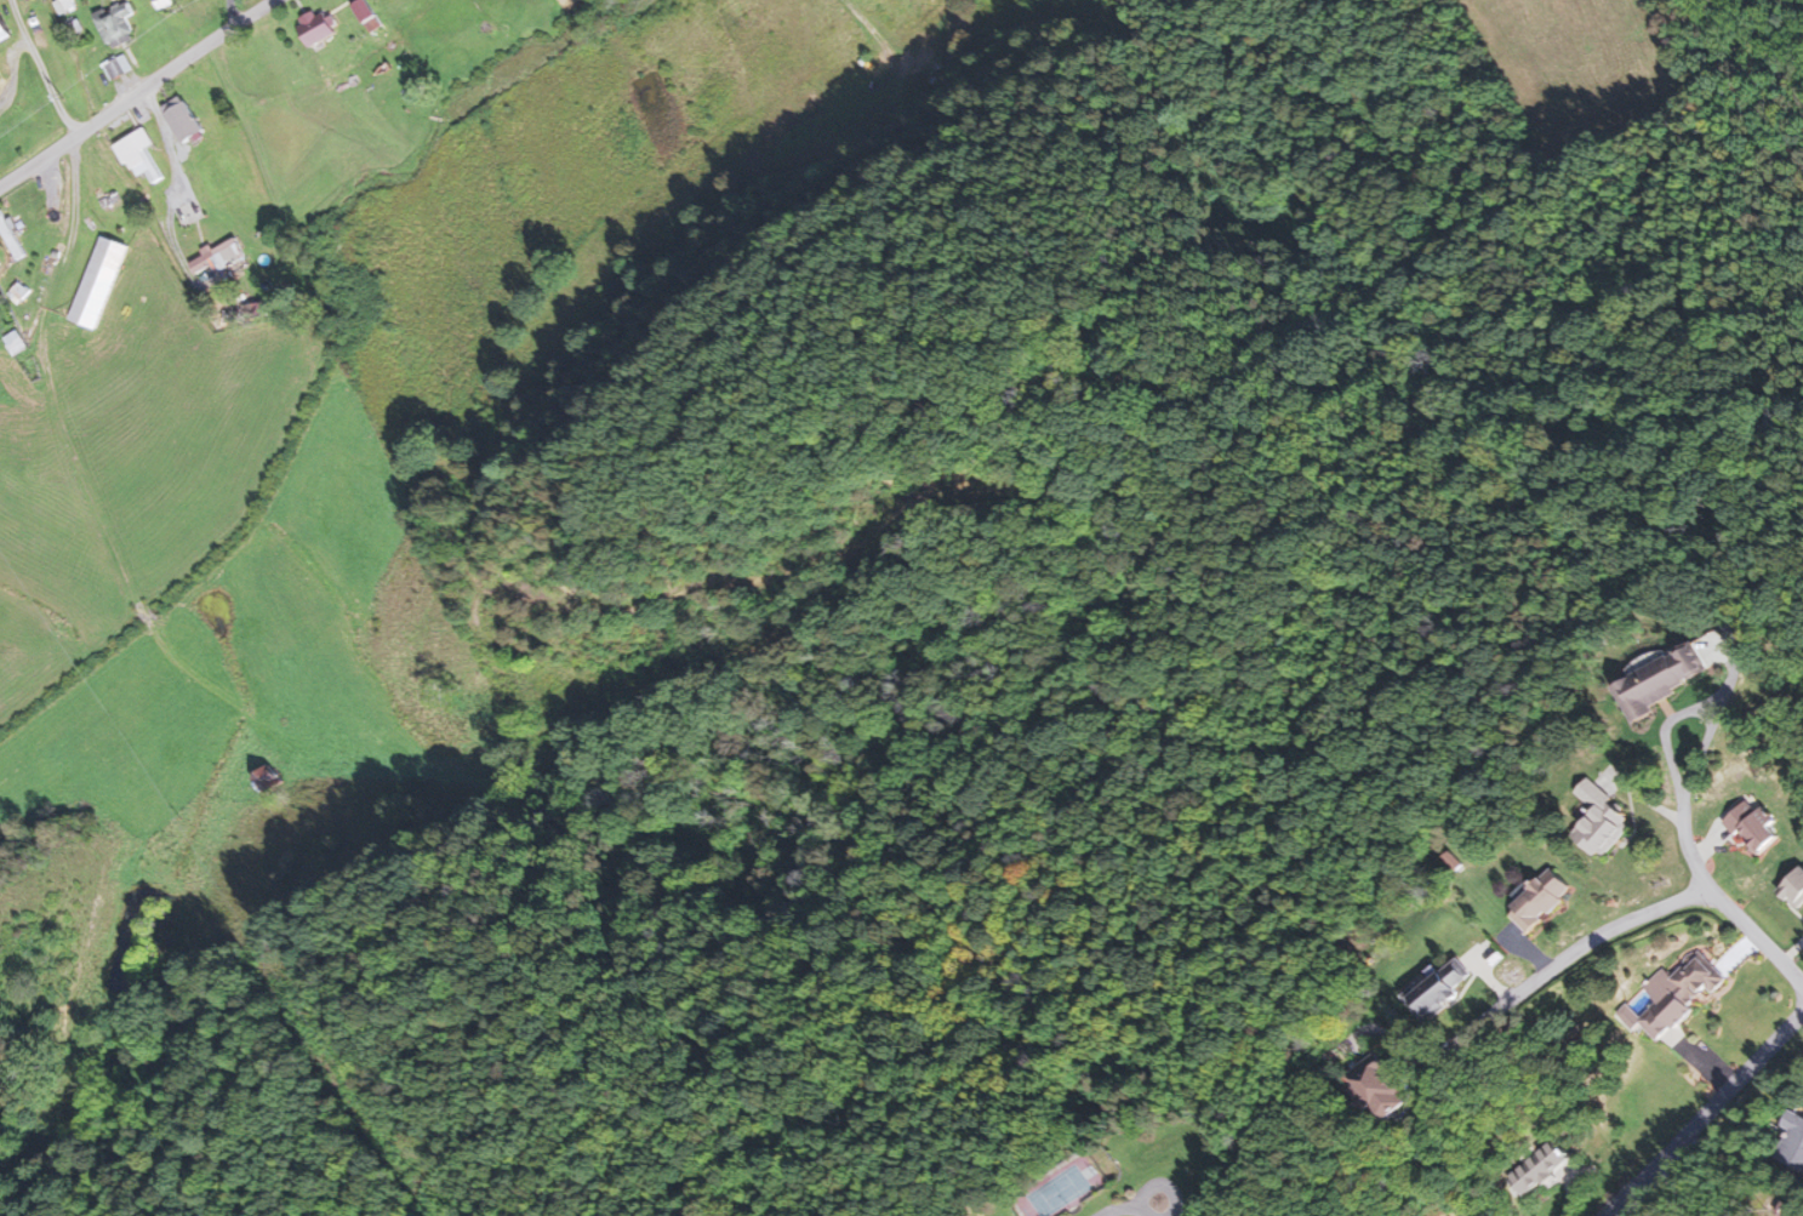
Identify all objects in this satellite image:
building: (365, 16)
building: (116, 24)
building: (314, 28)
building: (2, 30)
road: (138, 95)
road: (25, 115)
building: (182, 121)
building: (137, 154)
building: (218, 257)
building: (0, 259)
building: (97, 282)
building: (13, 342)
building: (1661, 676)
building: (264, 782)
road: (1682, 811)
building: (1602, 818)
building: (1751, 826)
building: (1793, 886)
building: (1541, 900)
road: (1756, 931)
road: (1560, 961)
building: (1440, 987)
building: (1679, 994)
building: (1376, 1086)
road: (1706, 1114)
building: (1801, 1134)
building: (1537, 1168)
road: (1163, 1182)
road: (1120, 1206)

